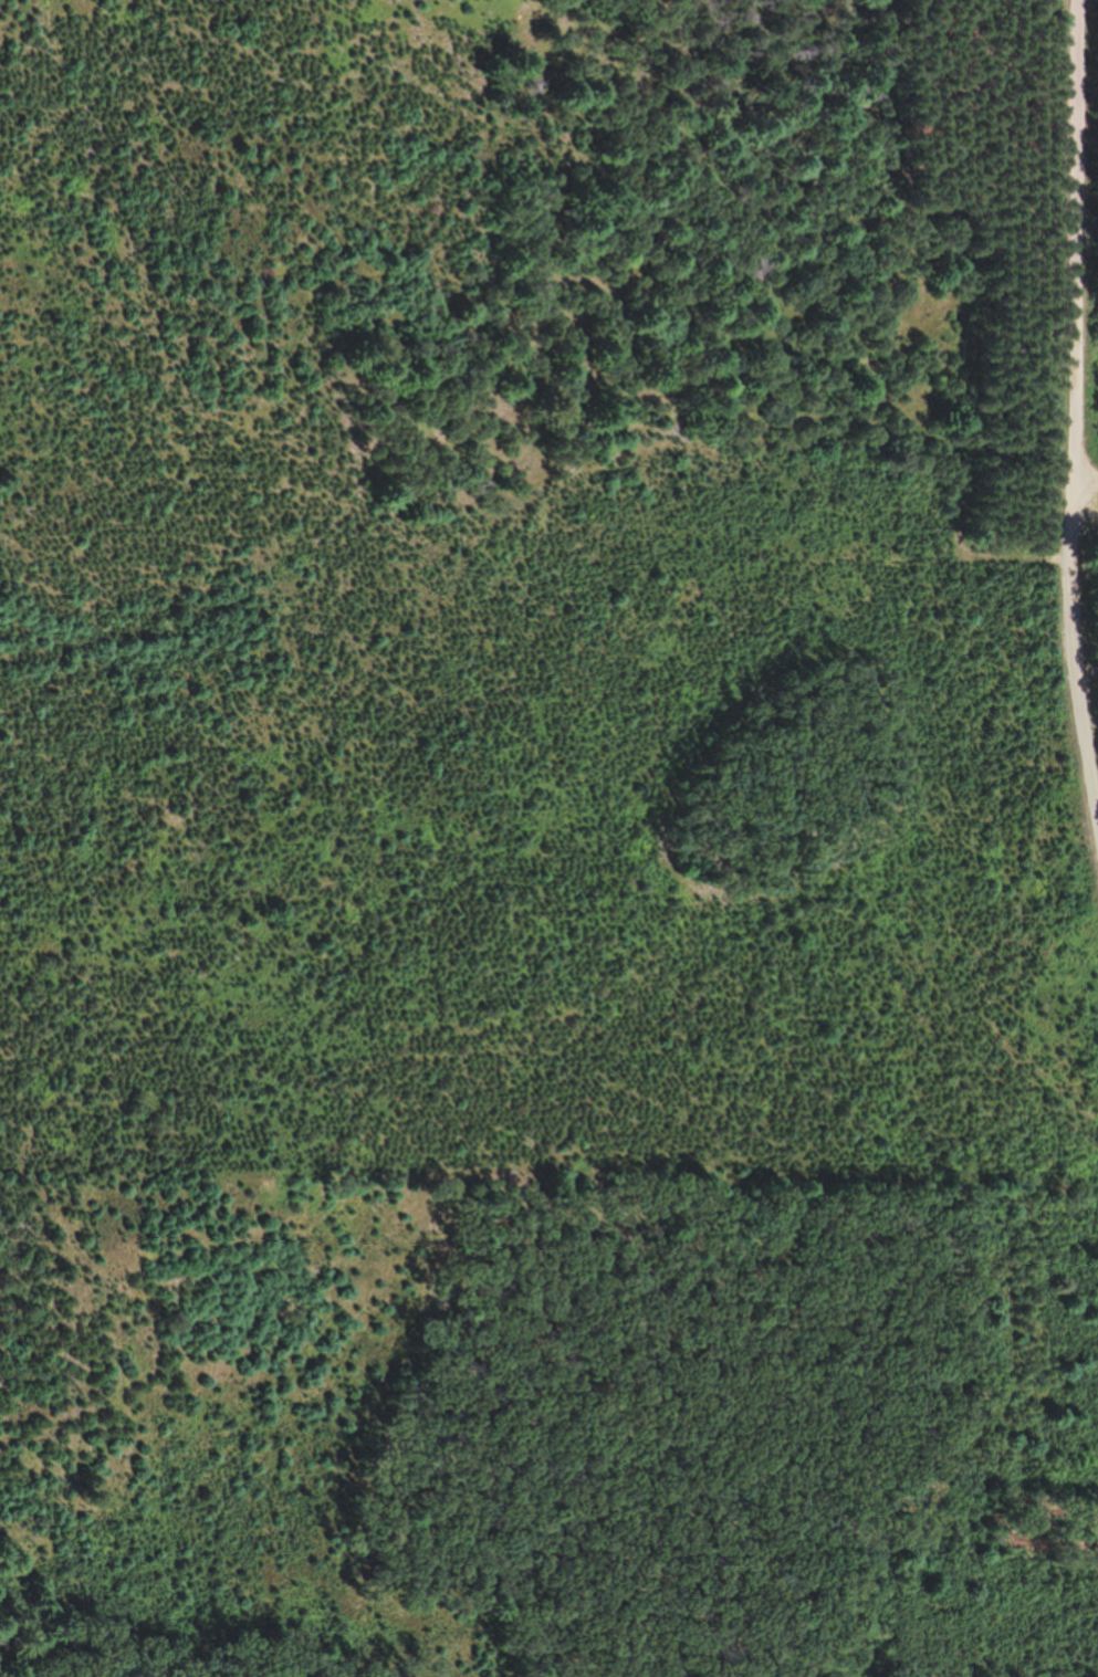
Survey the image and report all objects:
road: (1071, 397)
road: (1084, 493)

